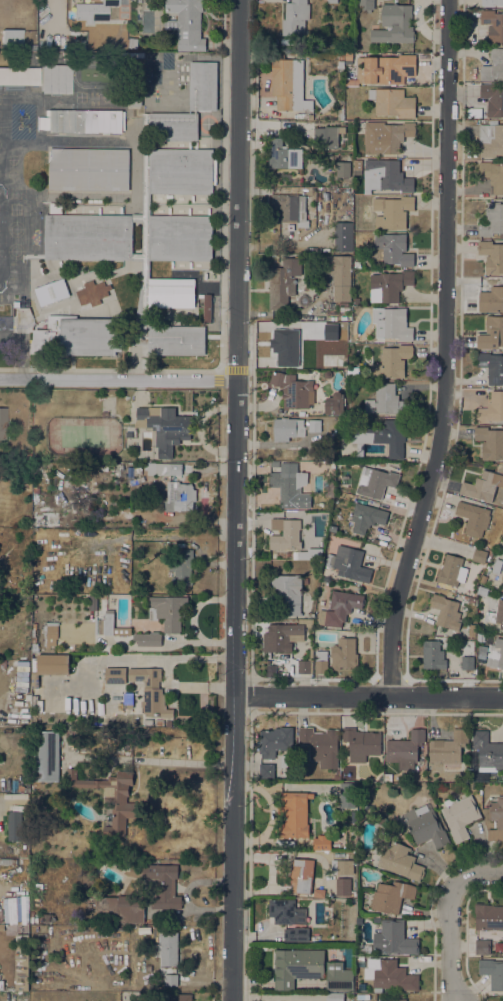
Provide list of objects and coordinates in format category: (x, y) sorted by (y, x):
building: (143, 1)
building: (332, 1)
building: (491, 2)
building: (365, 5)
building: (93, 10)
road: (223, 17)
building: (295, 17)
building: (186, 24)
building: (394, 24)
building: (493, 24)
building: (14, 39)
building: (132, 43)
building: (341, 57)
building: (348, 57)
road: (256, 59)
building: (340, 64)
building: (493, 66)
building: (385, 69)
building: (182, 74)
track: (94, 75)
building: (19, 76)
building: (56, 78)
building: (21, 84)
building: (289, 85)
building: (191, 87)
building: (203, 87)
building: (56, 92)
park: (80, 97)
park: (105, 97)
building: (135, 99)
building: (493, 99)
park: (0, 100)
building: (392, 102)
park: (0, 114)
building: (84, 120)
building: (172, 126)
building: (196, 127)
park: (0, 130)
building: (85, 132)
building: (328, 135)
building: (386, 136)
building: (491, 140)
building: (90, 150)
building: (283, 155)
park: (11, 160)
building: (358, 165)
building: (342, 169)
building: (89, 170)
building: (180, 171)
building: (211, 171)
park: (11, 174)
building: (492, 175)
building: (385, 176)
building: (87, 189)
park: (14, 193)
road: (223, 196)
building: (55, 208)
building: (290, 208)
park: (14, 209)
building: (392, 211)
building: (492, 220)
park: (14, 229)
building: (343, 236)
building: (88, 237)
building: (180, 238)
building: (211, 238)
building: (393, 249)
park: (14, 251)
building: (492, 256)
building: (139, 263)
building: (357, 264)
building: (338, 275)
building: (282, 283)
building: (389, 285)
building: (52, 292)
building: (93, 293)
building: (170, 293)
building: (193, 294)
building: (493, 299)
building: (206, 308)
building: (393, 323)
building: (491, 333)
building: (80, 336)
road: (203, 336)
road: (212, 336)
road: (220, 337)
building: (35, 339)
building: (174, 340)
parking lot: (14, 341)
building: (202, 342)
building: (284, 346)
road: (22, 347)
road: (136, 348)
road: (185, 352)
road: (446, 352)
road: (72, 355)
building: (328, 361)
building: (340, 361)
building: (392, 361)
road: (72, 364)
building: (492, 366)
road: (152, 368)
road: (217, 368)
road: (219, 369)
road: (104, 370)
road: (224, 370)
road: (237, 370)
road: (247, 370)
road: (251, 370)
building: (353, 372)
road: (118, 380)
road: (459, 390)
building: (293, 391)
building: (386, 401)
building: (335, 403)
building: (491, 409)
building: (2, 423)
building: (315, 426)
building: (166, 427)
building: (287, 428)
building: (381, 437)
building: (490, 443)
building: (377, 465)
building: (331, 467)
building: (114, 468)
building: (42, 472)
building: (130, 473)
building: (288, 482)
building: (376, 482)
building: (176, 485)
building: (26, 486)
building: (482, 486)
road: (235, 500)
building: (45, 515)
building: (366, 517)
building: (473, 518)
building: (285, 534)
building: (292, 555)
building: (479, 556)
building: (348, 563)
building: (497, 566)
building: (182, 569)
building: (451, 572)
building: (502, 574)
road: (389, 575)
building: (305, 580)
building: (502, 589)
building: (482, 591)
building: (288, 592)
building: (468, 599)
building: (92, 602)
building: (339, 608)
building: (473, 611)
building: (167, 612)
building: (446, 612)
building: (495, 615)
building: (306, 622)
building: (109, 625)
building: (51, 633)
building: (284, 636)
building: (147, 639)
building: (344, 653)
building: (482, 653)
building: (495, 653)
building: (433, 654)
building: (321, 662)
building: (467, 662)
building: (306, 663)
building: (48, 666)
building: (115, 675)
road: (390, 682)
building: (150, 690)
road: (249, 694)
road: (368, 698)
building: (128, 700)
building: (159, 723)
building: (168, 723)
road: (249, 731)
building: (275, 741)
building: (361, 743)
building: (320, 745)
building: (405, 748)
building: (449, 749)
building: (487, 751)
building: (46, 756)
building: (285, 761)
building: (267, 771)
building: (336, 775)
building: (388, 777)
building: (364, 789)
building: (347, 795)
building: (111, 797)
building: (365, 806)
building: (496, 811)
building: (294, 815)
building: (353, 816)
building: (459, 816)
building: (14, 826)
building: (425, 826)
building: (322, 843)
building: (400, 861)
building: (8, 862)
road: (442, 865)
building: (342, 867)
road: (437, 870)
road: (478, 873)
building: (302, 876)
building: (162, 886)
building: (343, 887)
building: (319, 893)
building: (391, 896)
road: (430, 902)
building: (121, 908)
building: (286, 912)
road: (427, 914)
building: (47, 917)
building: (488, 917)
building: (376, 920)
road: (428, 924)
building: (41, 928)
road: (465, 933)
building: (296, 935)
building: (394, 939)
road: (450, 940)
road: (460, 947)
building: (482, 947)
building: (167, 948)
building: (365, 949)
building: (425, 959)
building: (22, 962)
road: (430, 964)
building: (296, 966)
building: (492, 972)
building: (368, 975)
building: (391, 975)
building: (338, 977)
building: (171, 979)
building: (1, 985)
road: (472, 989)
building: (363, 996)
building: (181, 997)
building: (334, 997)
building: (394, 1000)
building: (502, 1000)

